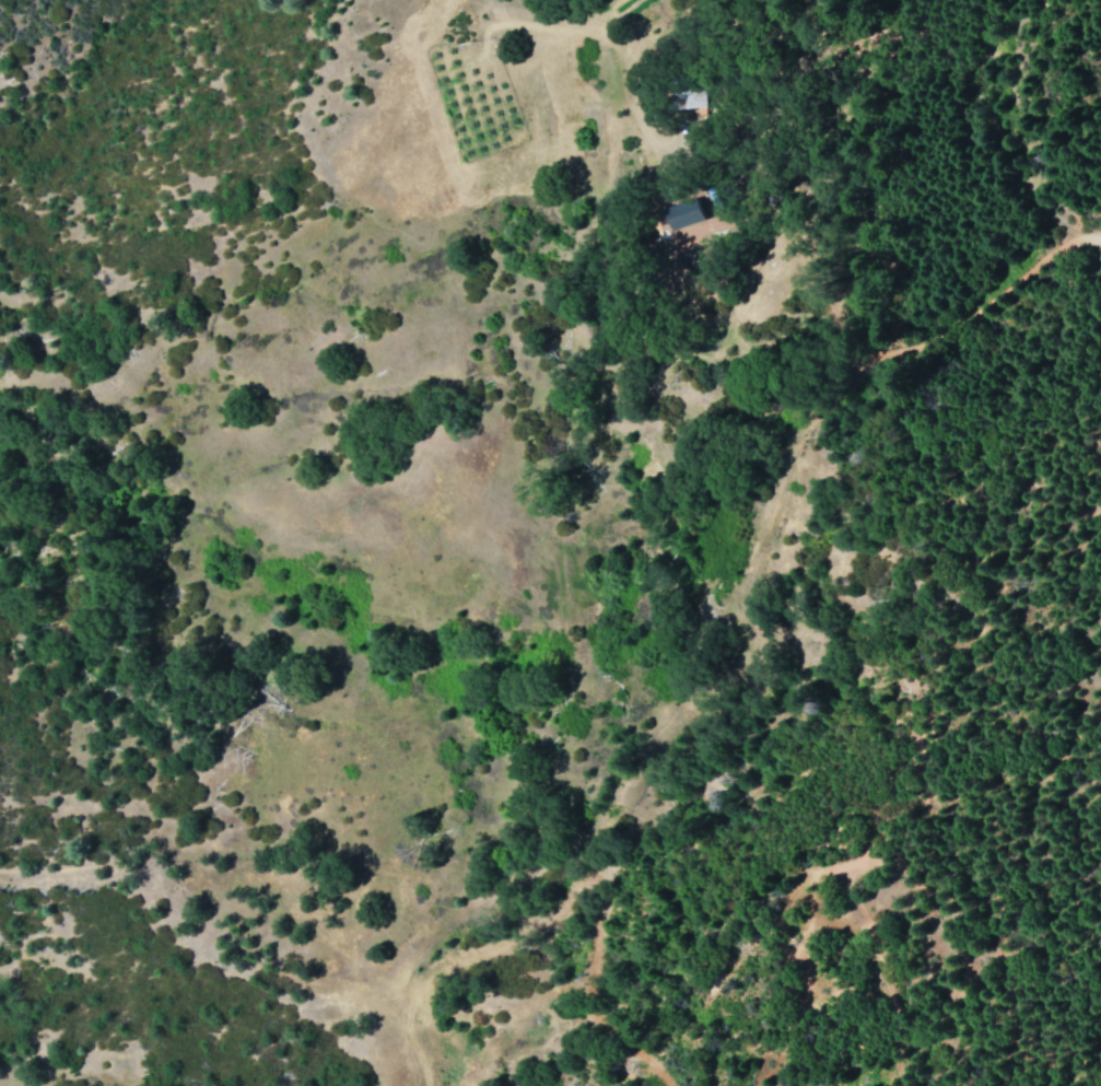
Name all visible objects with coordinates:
road: (872, 325)
road: (1016, 908)

